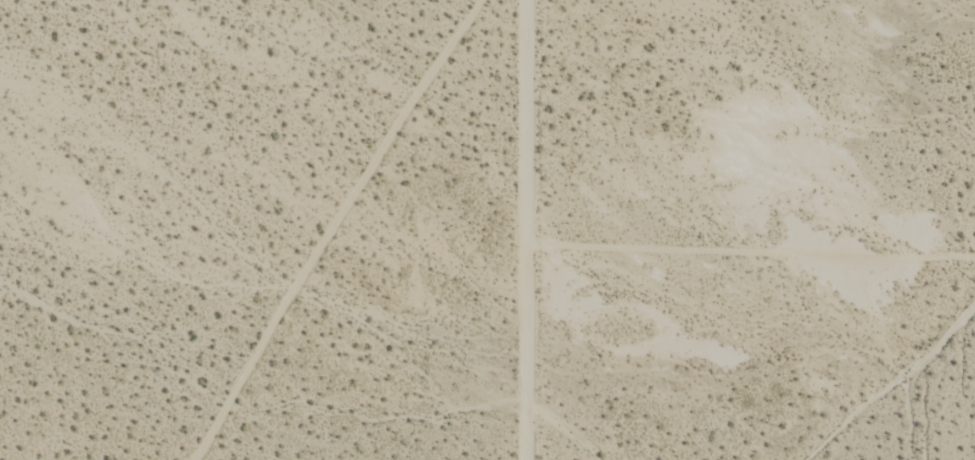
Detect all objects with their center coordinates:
road: (550, 229)
road: (765, 262)

